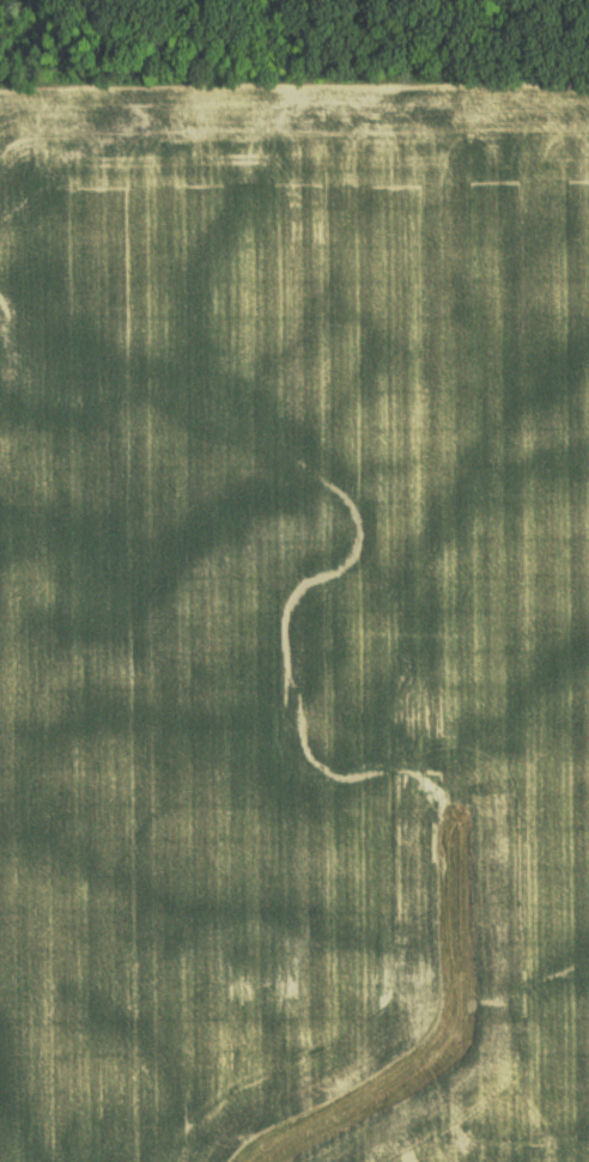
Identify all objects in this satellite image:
crop: (294, 620)

